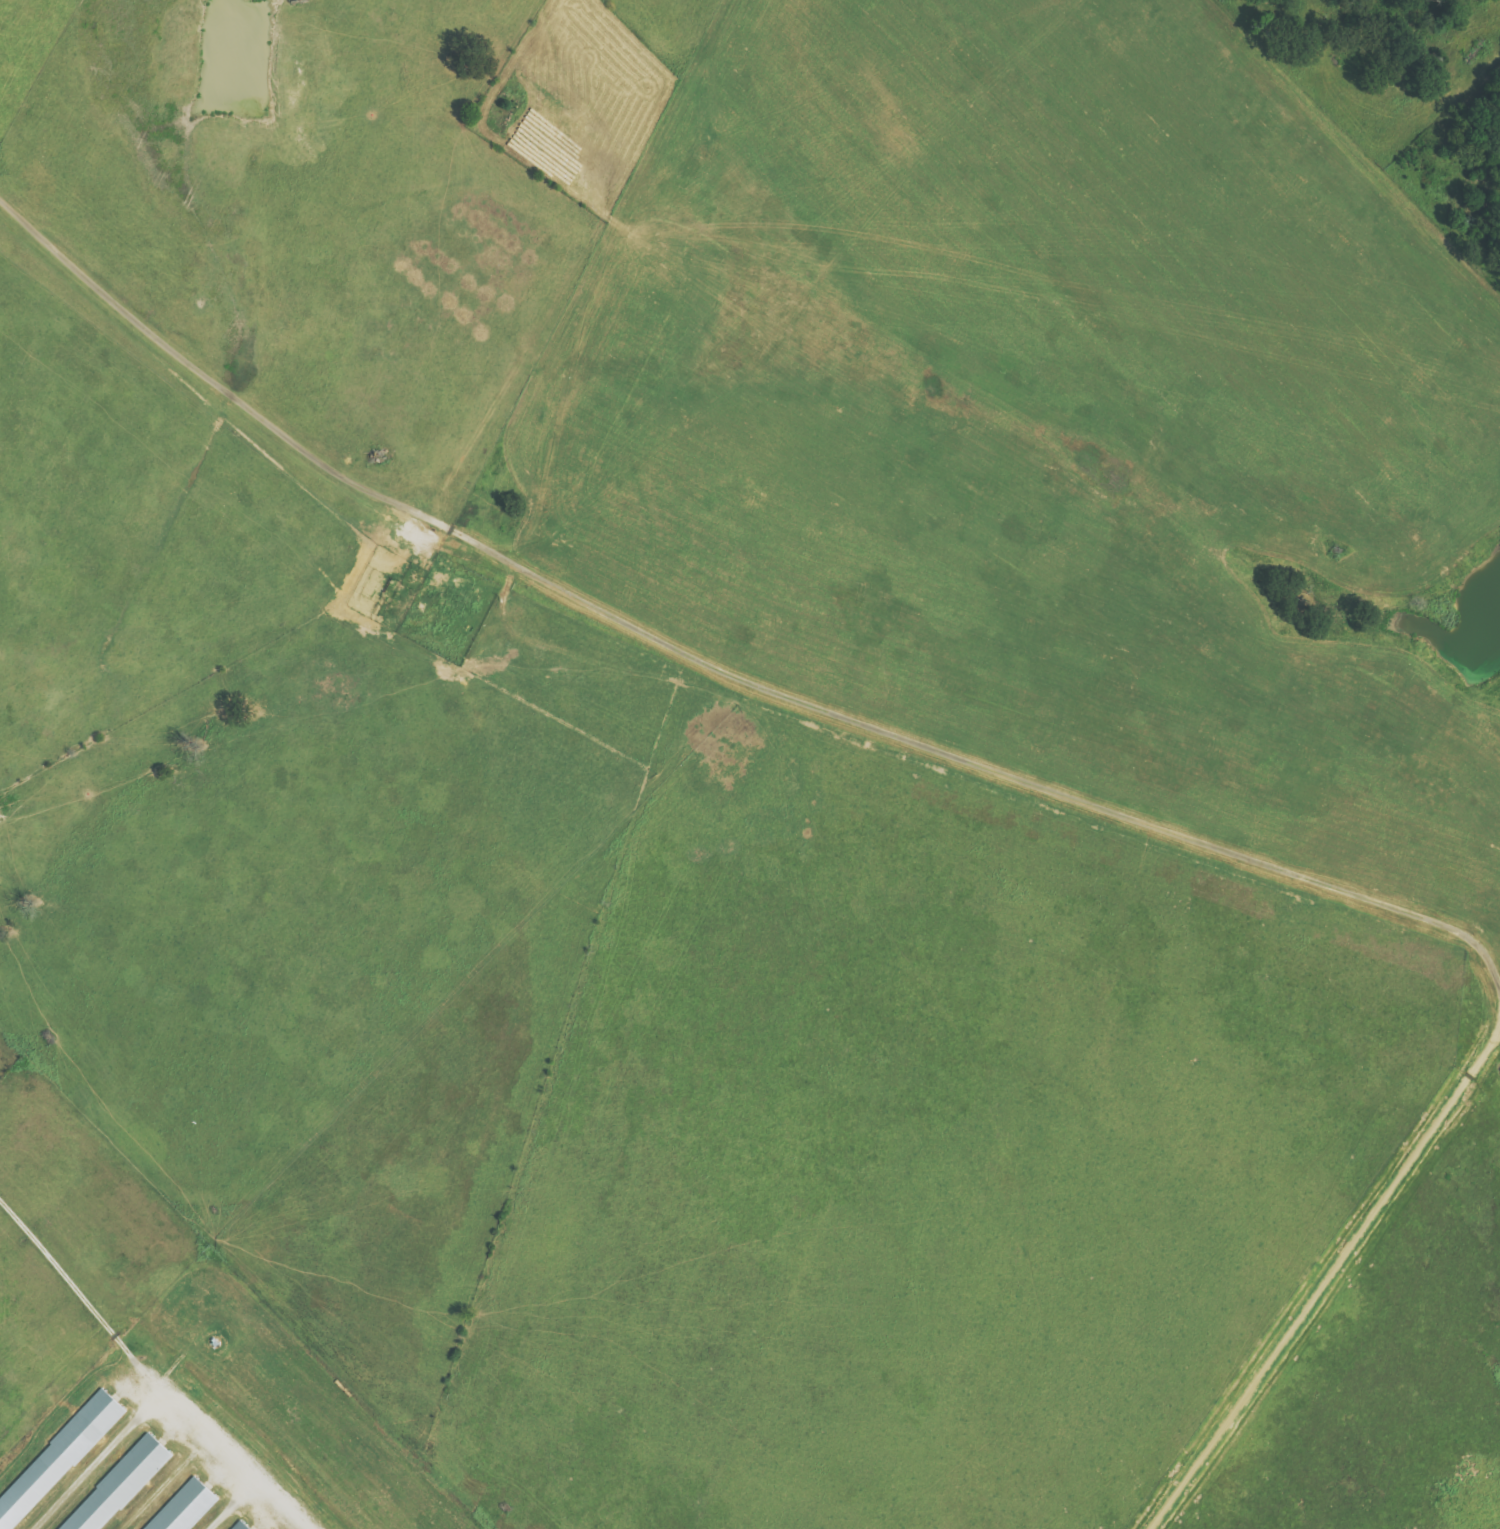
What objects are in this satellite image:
road: (724, 669)
building: (57, 1458)
building: (117, 1485)
building: (184, 1508)
building: (240, 1525)

